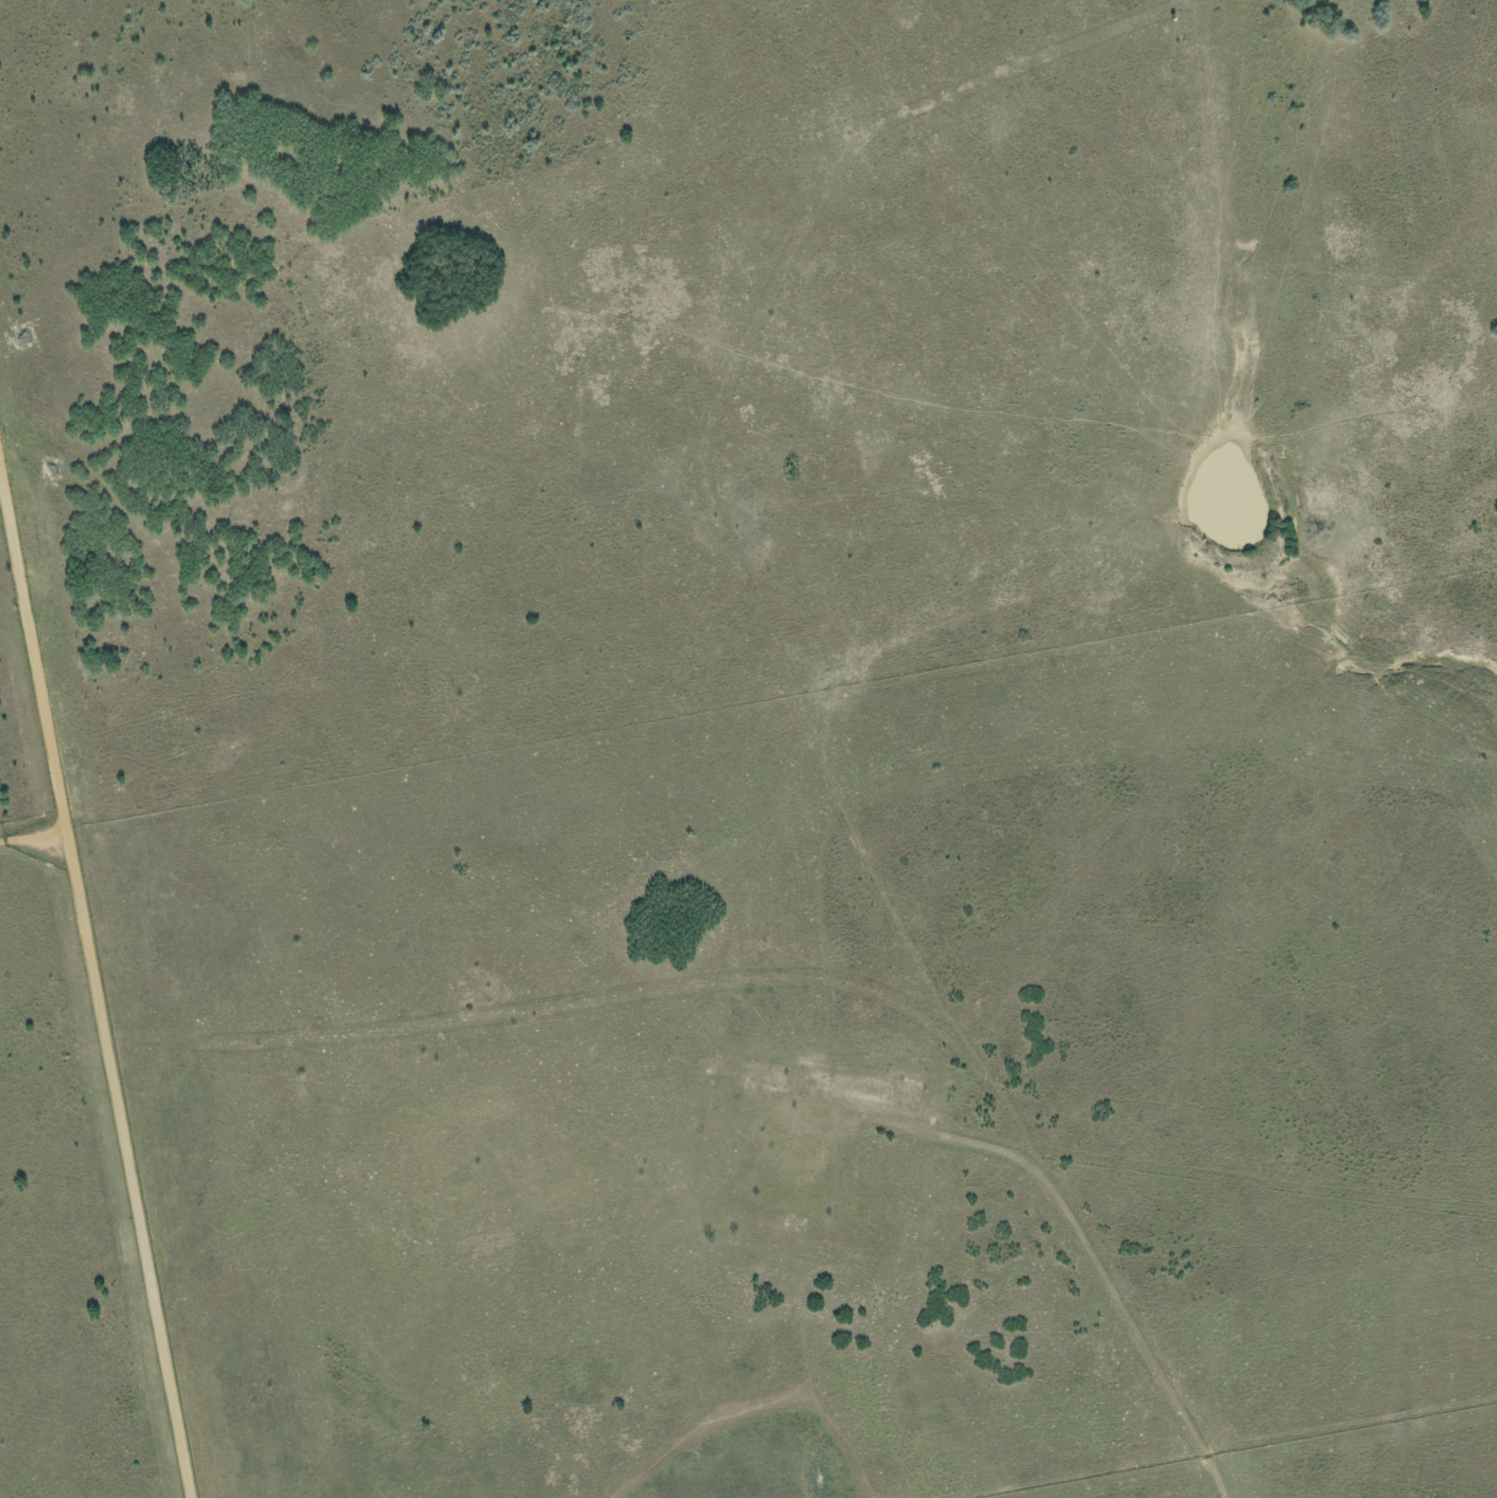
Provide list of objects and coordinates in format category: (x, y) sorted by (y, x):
road: (97, 974)

